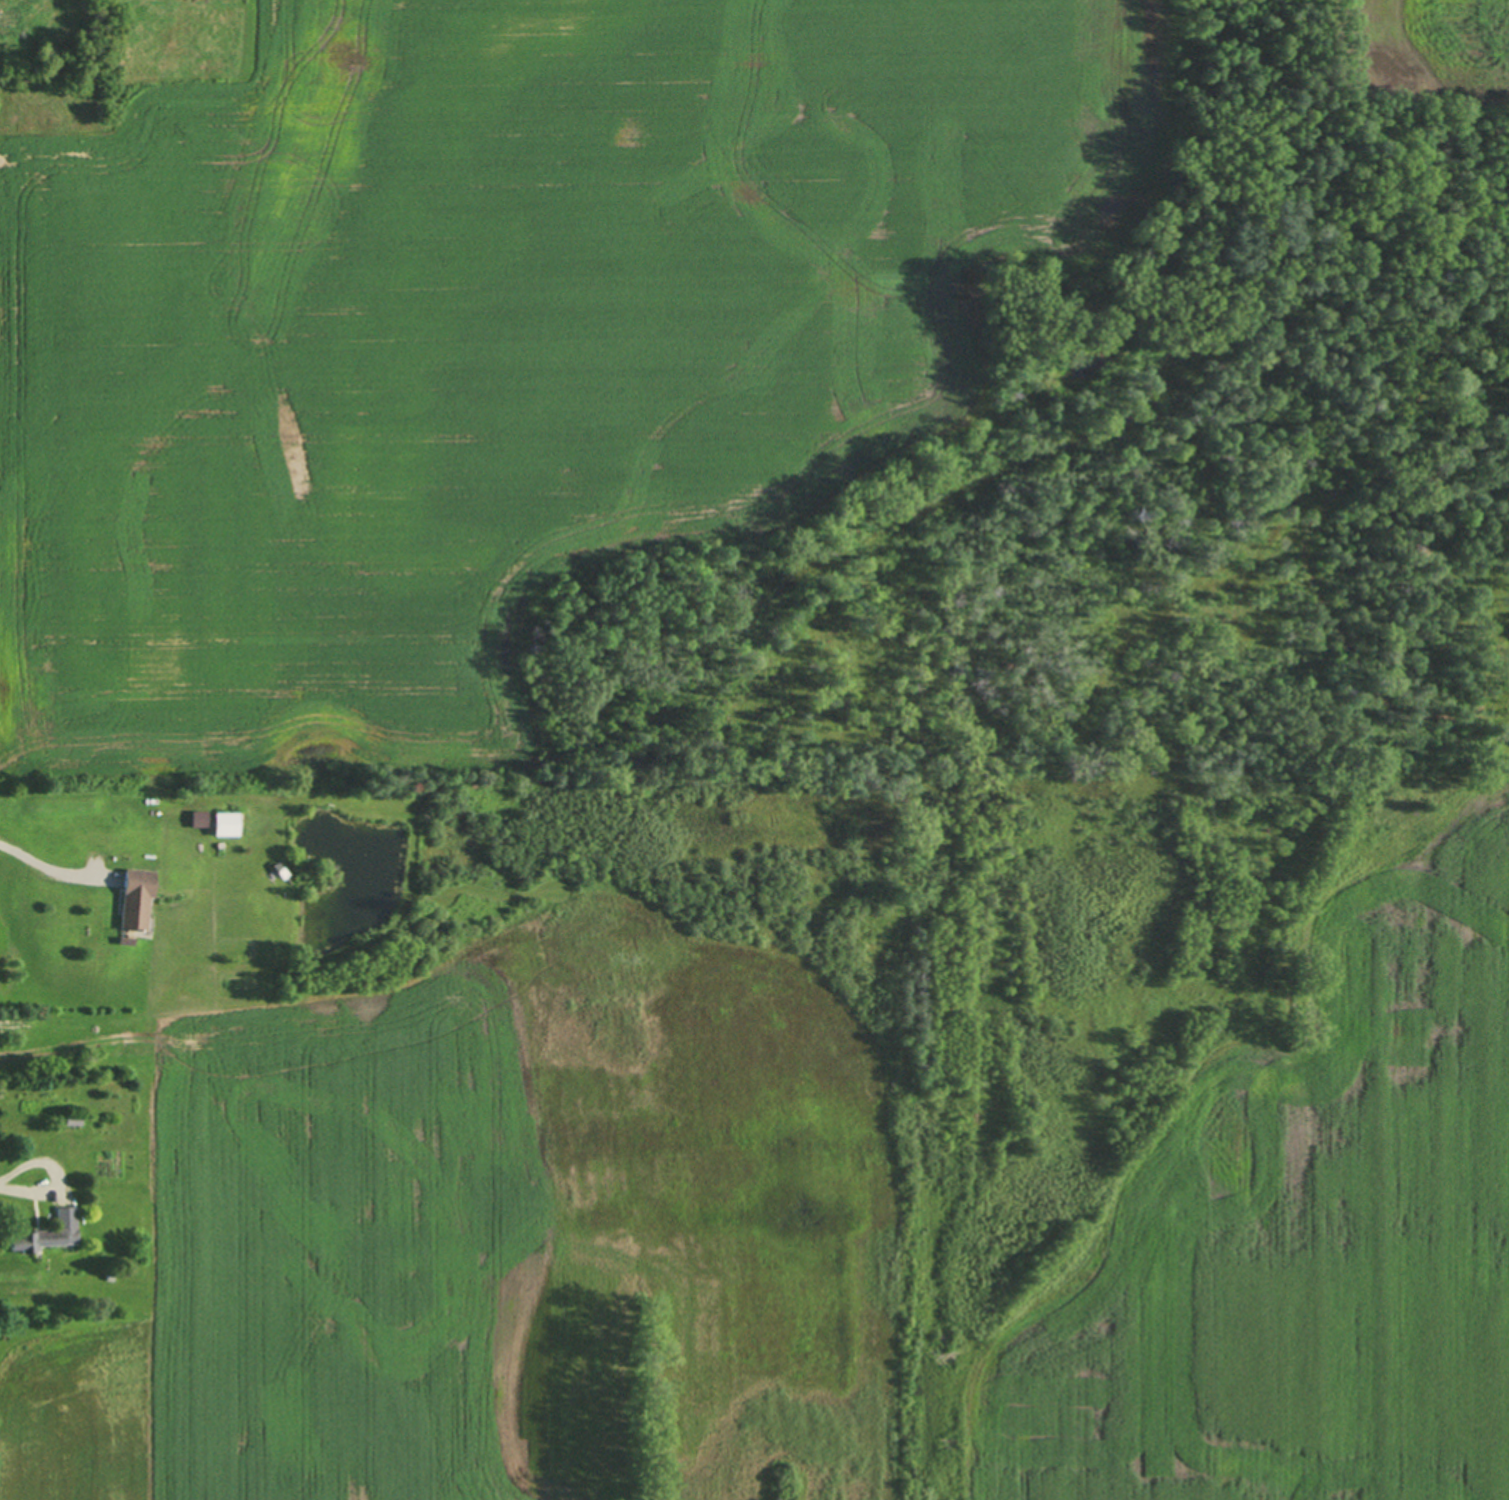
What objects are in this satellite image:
building: (196, 819)
building: (226, 822)
building: (134, 895)
building: (73, 1120)
building: (48, 1231)

